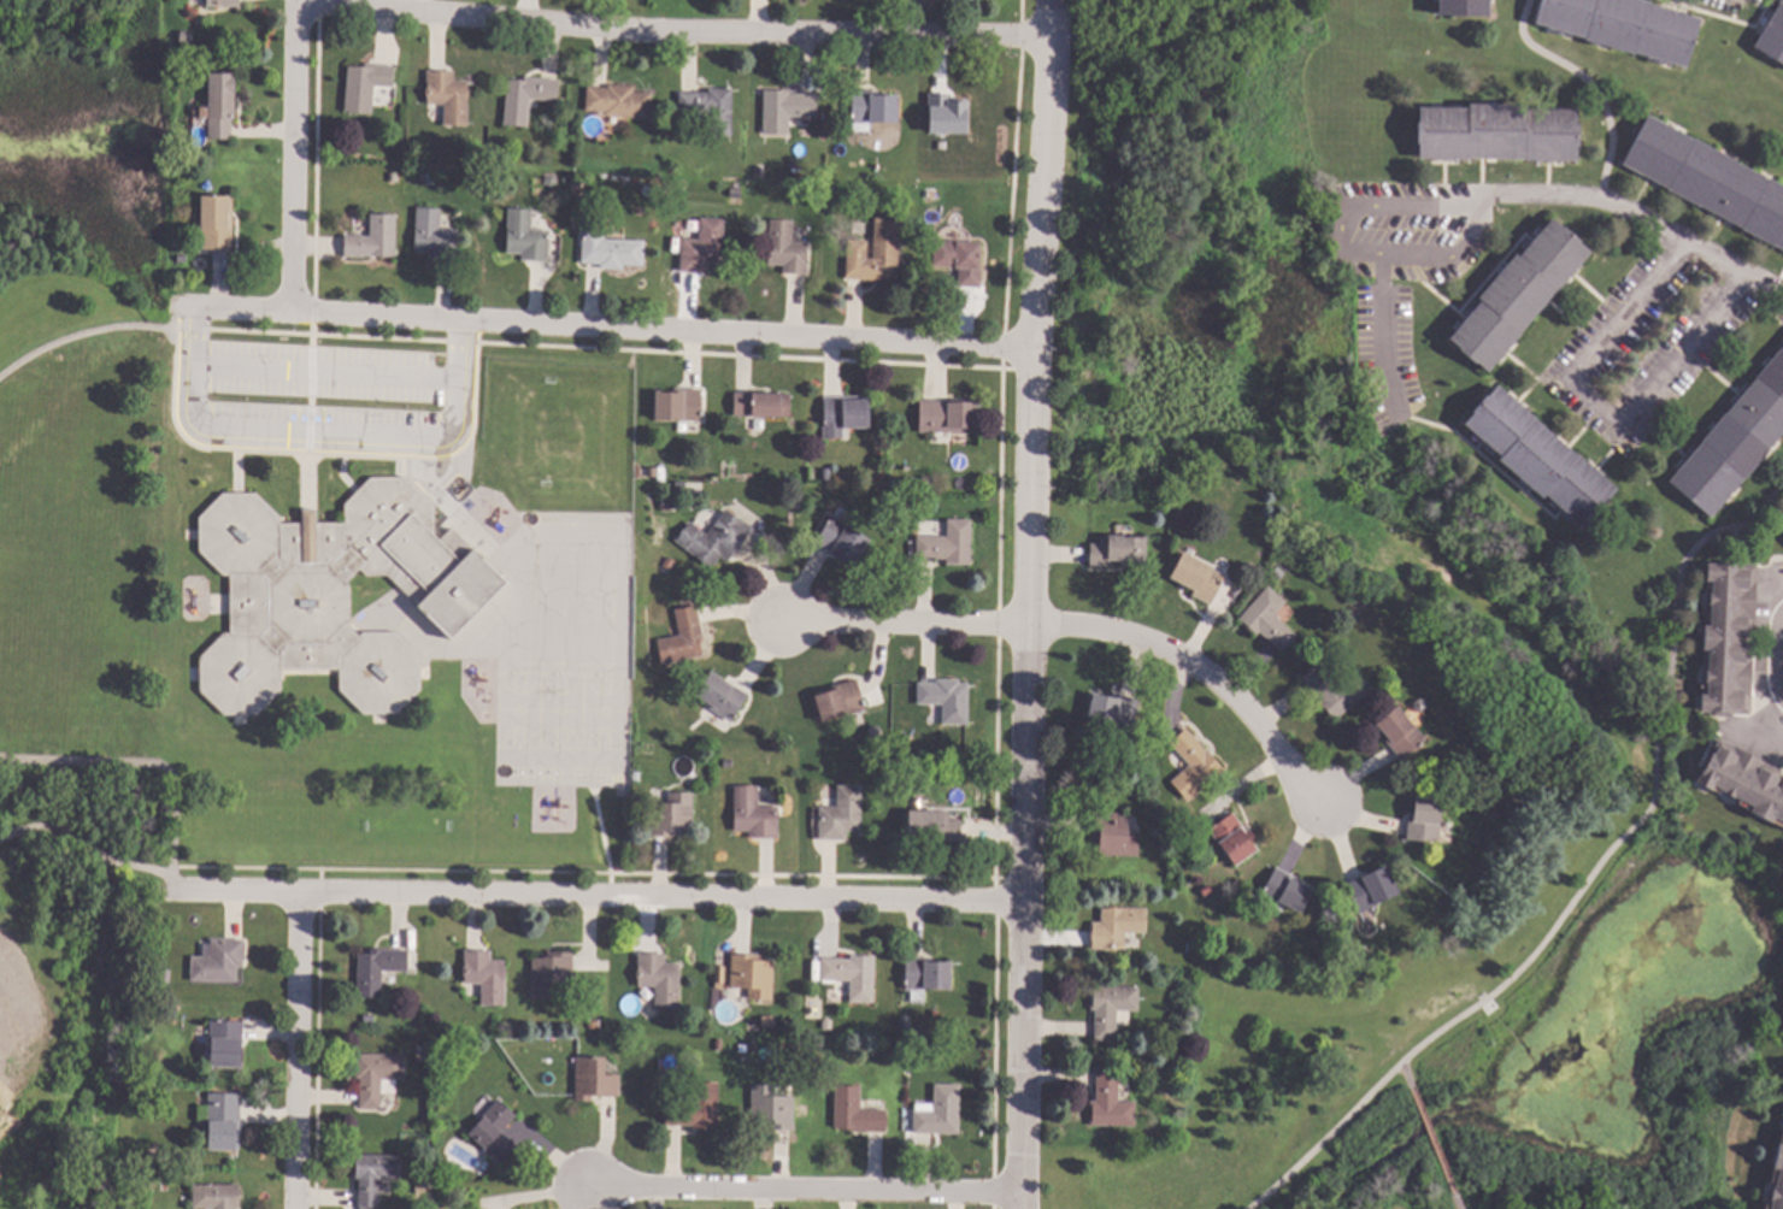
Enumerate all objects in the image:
building: (224, 2)
building: (1465, 7)
building: (1625, 25)
road: (672, 34)
building: (1772, 36)
building: (187, 37)
building: (366, 85)
building: (448, 95)
building: (526, 98)
building: (619, 101)
building: (220, 105)
building: (873, 107)
building: (711, 108)
building: (785, 110)
building: (943, 116)
building: (1499, 132)
road: (293, 157)
building: (393, 177)
building: (425, 178)
building: (1708, 179)
building: (552, 181)
building: (649, 190)
building: (735, 193)
road: (1414, 201)
road: (1634, 213)
building: (219, 222)
building: (435, 236)
building: (526, 236)
building: (373, 238)
building: (704, 247)
building: (787, 247)
building: (610, 248)
building: (876, 253)
road: (1404, 254)
building: (960, 260)
building: (1519, 294)
road: (1629, 309)
road: (613, 330)
road: (90, 335)
road: (1682, 346)
road: (1593, 399)
building: (681, 405)
building: (763, 405)
building: (846, 412)
building: (946, 415)
road: (322, 440)
park: (566, 441)
building: (1735, 442)
building: (1540, 456)
building: (826, 474)
building: (924, 482)
building: (799, 501)
building: (666, 503)
building: (705, 515)
park: (80, 518)
building: (716, 538)
building: (843, 539)
building: (948, 544)
building: (1118, 552)
building: (669, 564)
building: (1251, 568)
building: (1198, 578)
park: (1420, 586)
building: (328, 595)
road: (1029, 603)
building: (1269, 619)
road: (906, 625)
park: (55, 630)
building: (683, 637)
building: (1730, 637)
park: (18, 645)
road: (1773, 656)
road: (1200, 672)
building: (1335, 689)
building: (722, 697)
building: (947, 698)
building: (841, 700)
building: (1419, 706)
building: (1113, 712)
building: (753, 727)
building: (1401, 733)
park: (552, 735)
building: (873, 757)
building: (729, 763)
building: (1194, 765)
road: (148, 766)
building: (1481, 767)
building: (637, 775)
building: (1746, 778)
building: (754, 814)
building: (842, 814)
building: (672, 815)
building: (1425, 820)
building: (935, 827)
building: (1116, 834)
building: (1234, 839)
road: (88, 851)
road: (1587, 879)
building: (1372, 889)
building: (1206, 890)
building: (1288, 890)
road: (598, 898)
building: (1117, 926)
building: (1340, 949)
building: (219, 961)
building: (378, 969)
building: (552, 973)
building: (165, 975)
building: (720, 975)
building: (753, 975)
building: (853, 975)
building: (487, 977)
building: (926, 977)
building: (660, 978)
building: (1112, 1007)
building: (171, 1013)
building: (369, 1018)
building: (769, 1020)
building: (695, 1021)
building: (829, 1022)
building: (906, 1022)
building: (1782, 1040)
building: (225, 1042)
building: (753, 1046)
road: (295, 1051)
building: (420, 1057)
building: (1171, 1066)
road: (1405, 1075)
building: (378, 1077)
building: (595, 1079)
building: (1111, 1101)
building: (696, 1108)
building: (772, 1108)
building: (857, 1111)
building: (938, 1111)
building: (223, 1120)
building: (495, 1132)
road: (1431, 1140)
building: (376, 1176)
building: (1778, 1180)
building: (420, 1189)
road: (801, 1191)
building: (216, 1196)
road: (1454, 1201)

